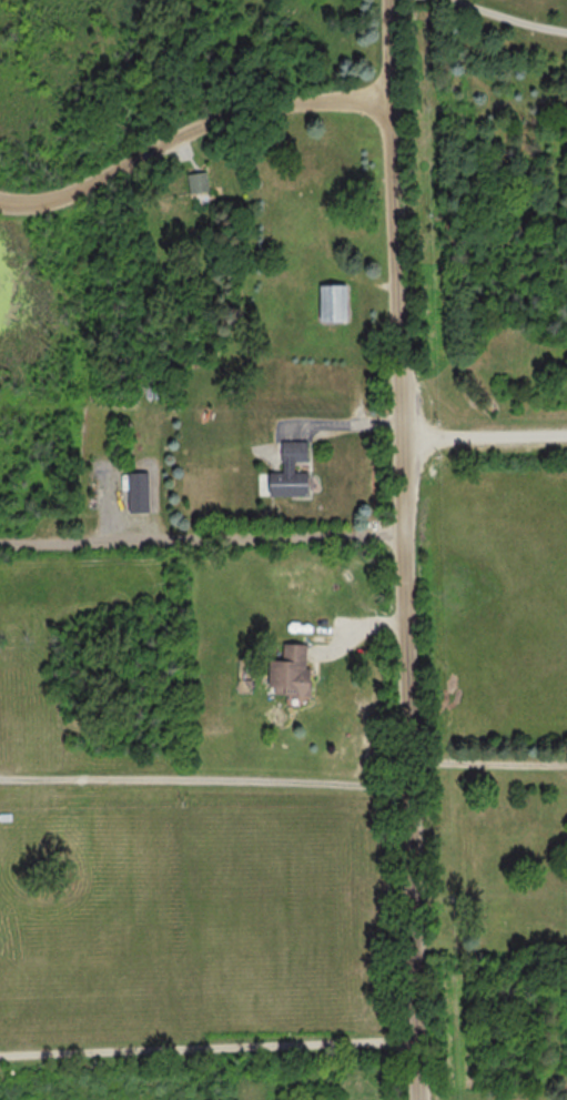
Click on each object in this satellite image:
road: (503, 18)
road: (188, 133)
building: (314, 170)
building: (200, 182)
building: (338, 302)
road: (483, 435)
building: (295, 472)
building: (141, 492)
road: (201, 538)
road: (403, 549)
building: (288, 670)
road: (487, 767)
road: (204, 778)
road: (209, 1052)

